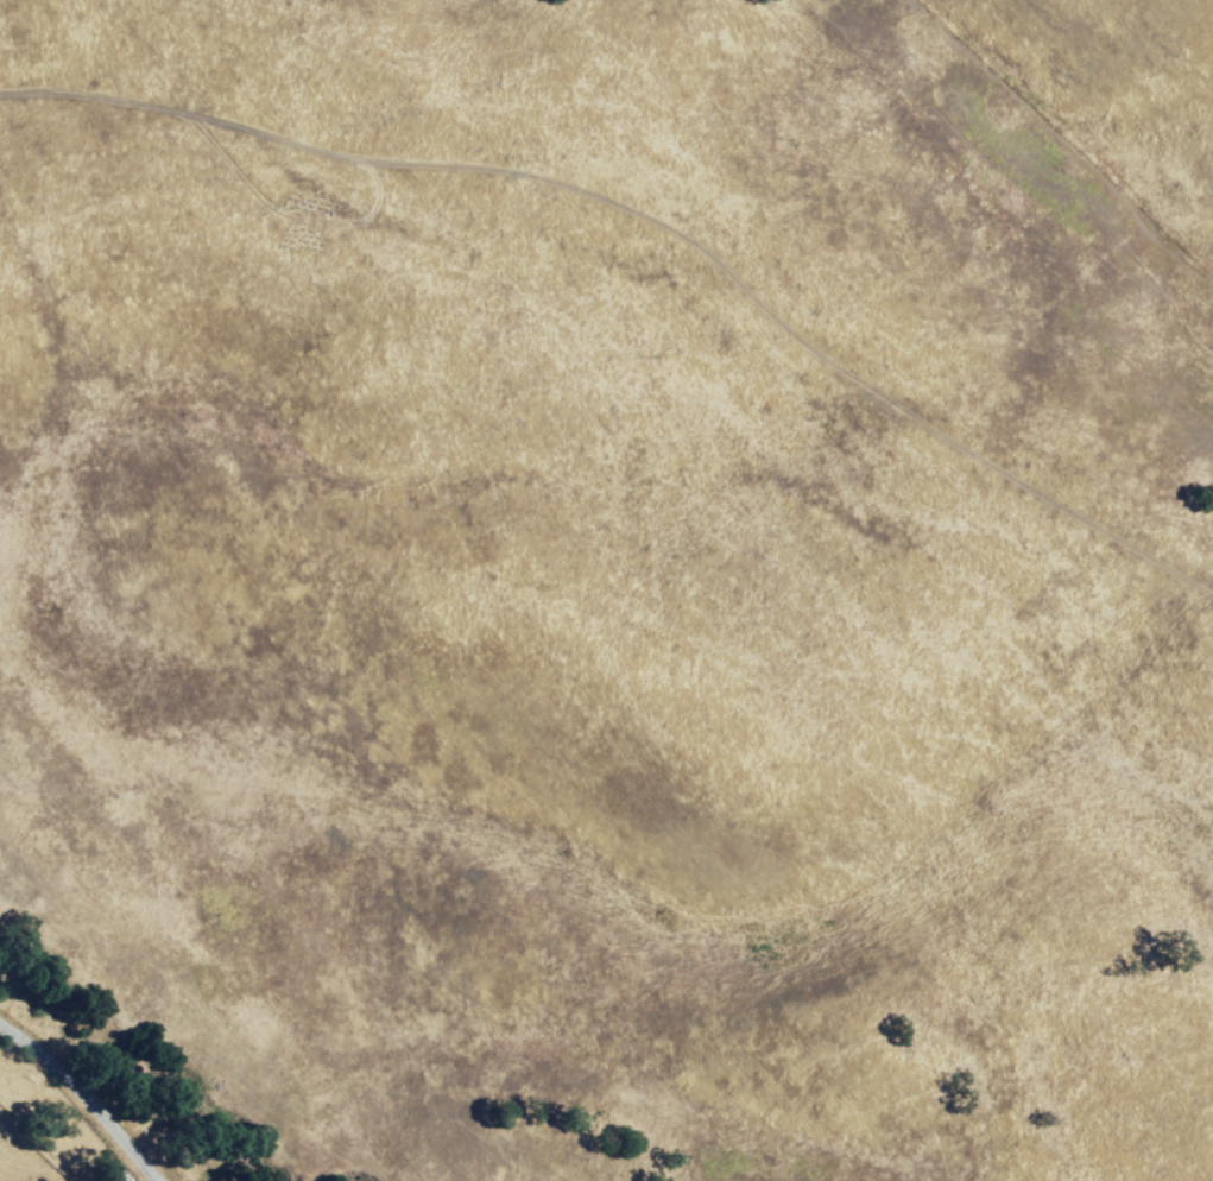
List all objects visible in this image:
road: (75, 1100)

